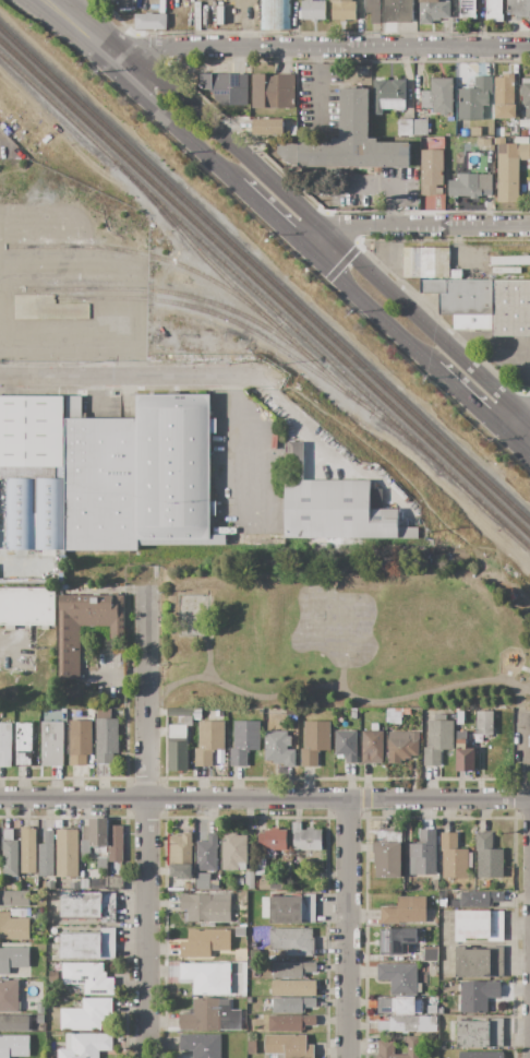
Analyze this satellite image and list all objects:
building: (342, 9)
building: (467, 9)
building: (519, 9)
building: (313, 10)
building: (373, 10)
building: (398, 11)
building: (433, 11)
building: (493, 11)
building: (194, 14)
building: (274, 14)
building: (149, 21)
road: (79, 27)
road: (320, 48)
building: (226, 88)
building: (273, 91)
road: (315, 91)
building: (388, 95)
building: (437, 96)
building: (504, 97)
building: (474, 98)
building: (526, 98)
railway: (56, 108)
road: (172, 120)
building: (268, 127)
building: (412, 128)
building: (475, 132)
building: (525, 132)
building: (463, 133)
building: (348, 141)
building: (483, 144)
building: (509, 171)
building: (432, 173)
road: (383, 186)
building: (465, 186)
building: (431, 202)
road: (270, 217)
road: (413, 227)
road: (327, 229)
railway: (184, 235)
railway: (138, 254)
railway: (264, 275)
railway: (265, 287)
railway: (166, 293)
building: (471, 294)
building: (46, 308)
road: (369, 309)
railway: (277, 312)
railway: (212, 314)
railway: (301, 349)
road: (131, 377)
road: (474, 408)
road: (237, 409)
railway: (394, 427)
building: (32, 431)
road: (263, 441)
road: (523, 441)
road: (523, 453)
building: (174, 471)
building: (99, 482)
railway: (485, 504)
building: (334, 508)
building: (19, 514)
building: (50, 514)
building: (26, 560)
building: (27, 573)
building: (26, 606)
building: (68, 633)
park: (344, 641)
road: (338, 689)
building: (170, 713)
building: (396, 715)
building: (484, 723)
building: (106, 737)
building: (437, 739)
building: (209, 741)
building: (244, 741)
building: (314, 741)
building: (80, 742)
building: (23, 744)
building: (51, 744)
building: (5, 745)
building: (346, 746)
building: (402, 746)
building: (372, 748)
building: (178, 749)
building: (278, 749)
building: (463, 758)
road: (529, 763)
road: (265, 798)
road: (146, 825)
building: (95, 832)
building: (305, 837)
building: (272, 842)
building: (116, 843)
building: (83, 847)
building: (27, 852)
building: (233, 852)
building: (67, 853)
building: (10, 854)
building: (206, 854)
building: (387, 854)
building: (46, 855)
building: (423, 855)
building: (180, 856)
building: (487, 857)
building: (454, 858)
building: (249, 880)
building: (239, 881)
building: (205, 882)
building: (263, 882)
building: (115, 883)
building: (434, 884)
building: (49, 885)
building: (188, 885)
building: (15, 887)
building: (14, 899)
building: (480, 899)
building: (88, 906)
building: (206, 907)
building: (292, 910)
building: (405, 912)
building: (21, 913)
building: (478, 926)
building: (13, 928)
road: (347, 928)
building: (240, 932)
building: (396, 940)
building: (292, 942)
building: (205, 943)
building: (88, 944)
building: (254, 953)
building: (430, 954)
building: (415, 956)
building: (13, 959)
building: (479, 961)
building: (292, 970)
building: (260, 972)
building: (52, 977)
building: (87, 977)
building: (206, 978)
building: (398, 978)
building: (294, 988)
building: (477, 996)
building: (9, 997)
building: (292, 1004)
building: (399, 1007)
building: (40, 1008)
building: (431, 1009)
building: (87, 1014)
building: (206, 1015)
building: (40, 1019)
building: (14, 1023)
building: (290, 1023)
building: (408, 1024)
building: (241, 1027)
building: (480, 1034)
building: (85, 1045)
building: (201, 1045)
building: (13, 1046)
building: (288, 1046)
building: (251, 1048)
building: (386, 1050)
building: (481, 1055)

